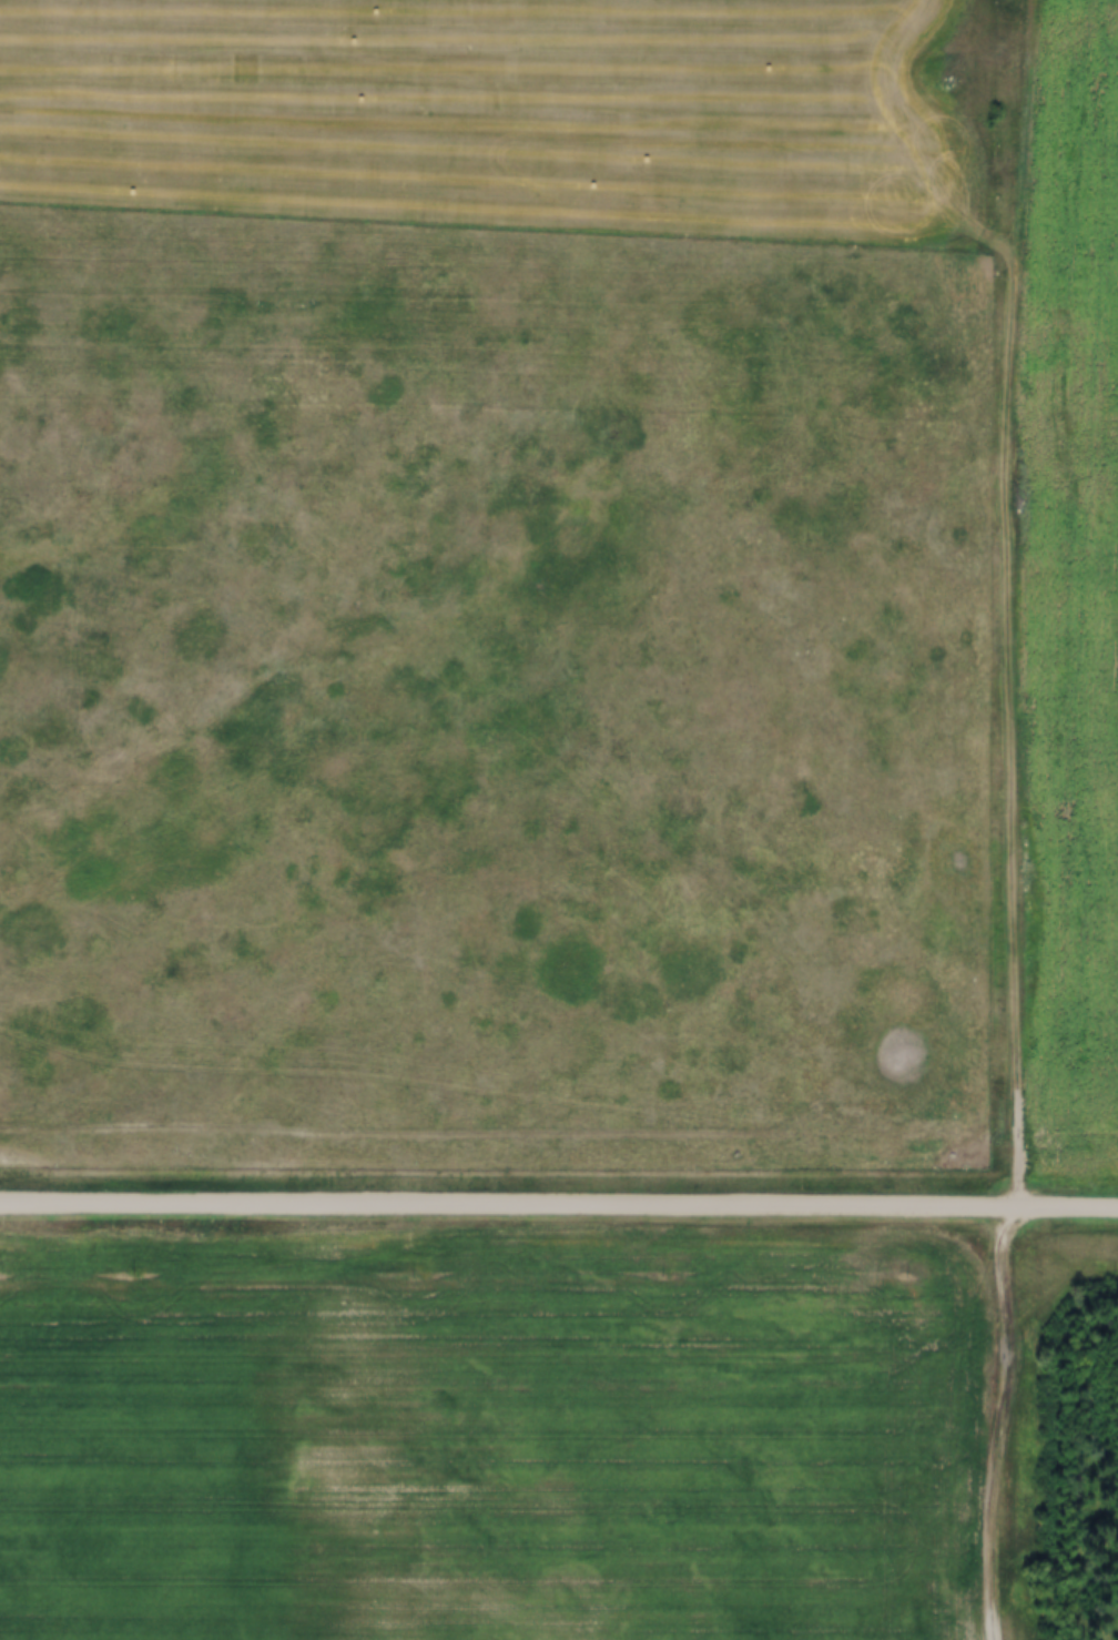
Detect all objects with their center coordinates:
road: (559, 1205)
road: (997, 1423)

